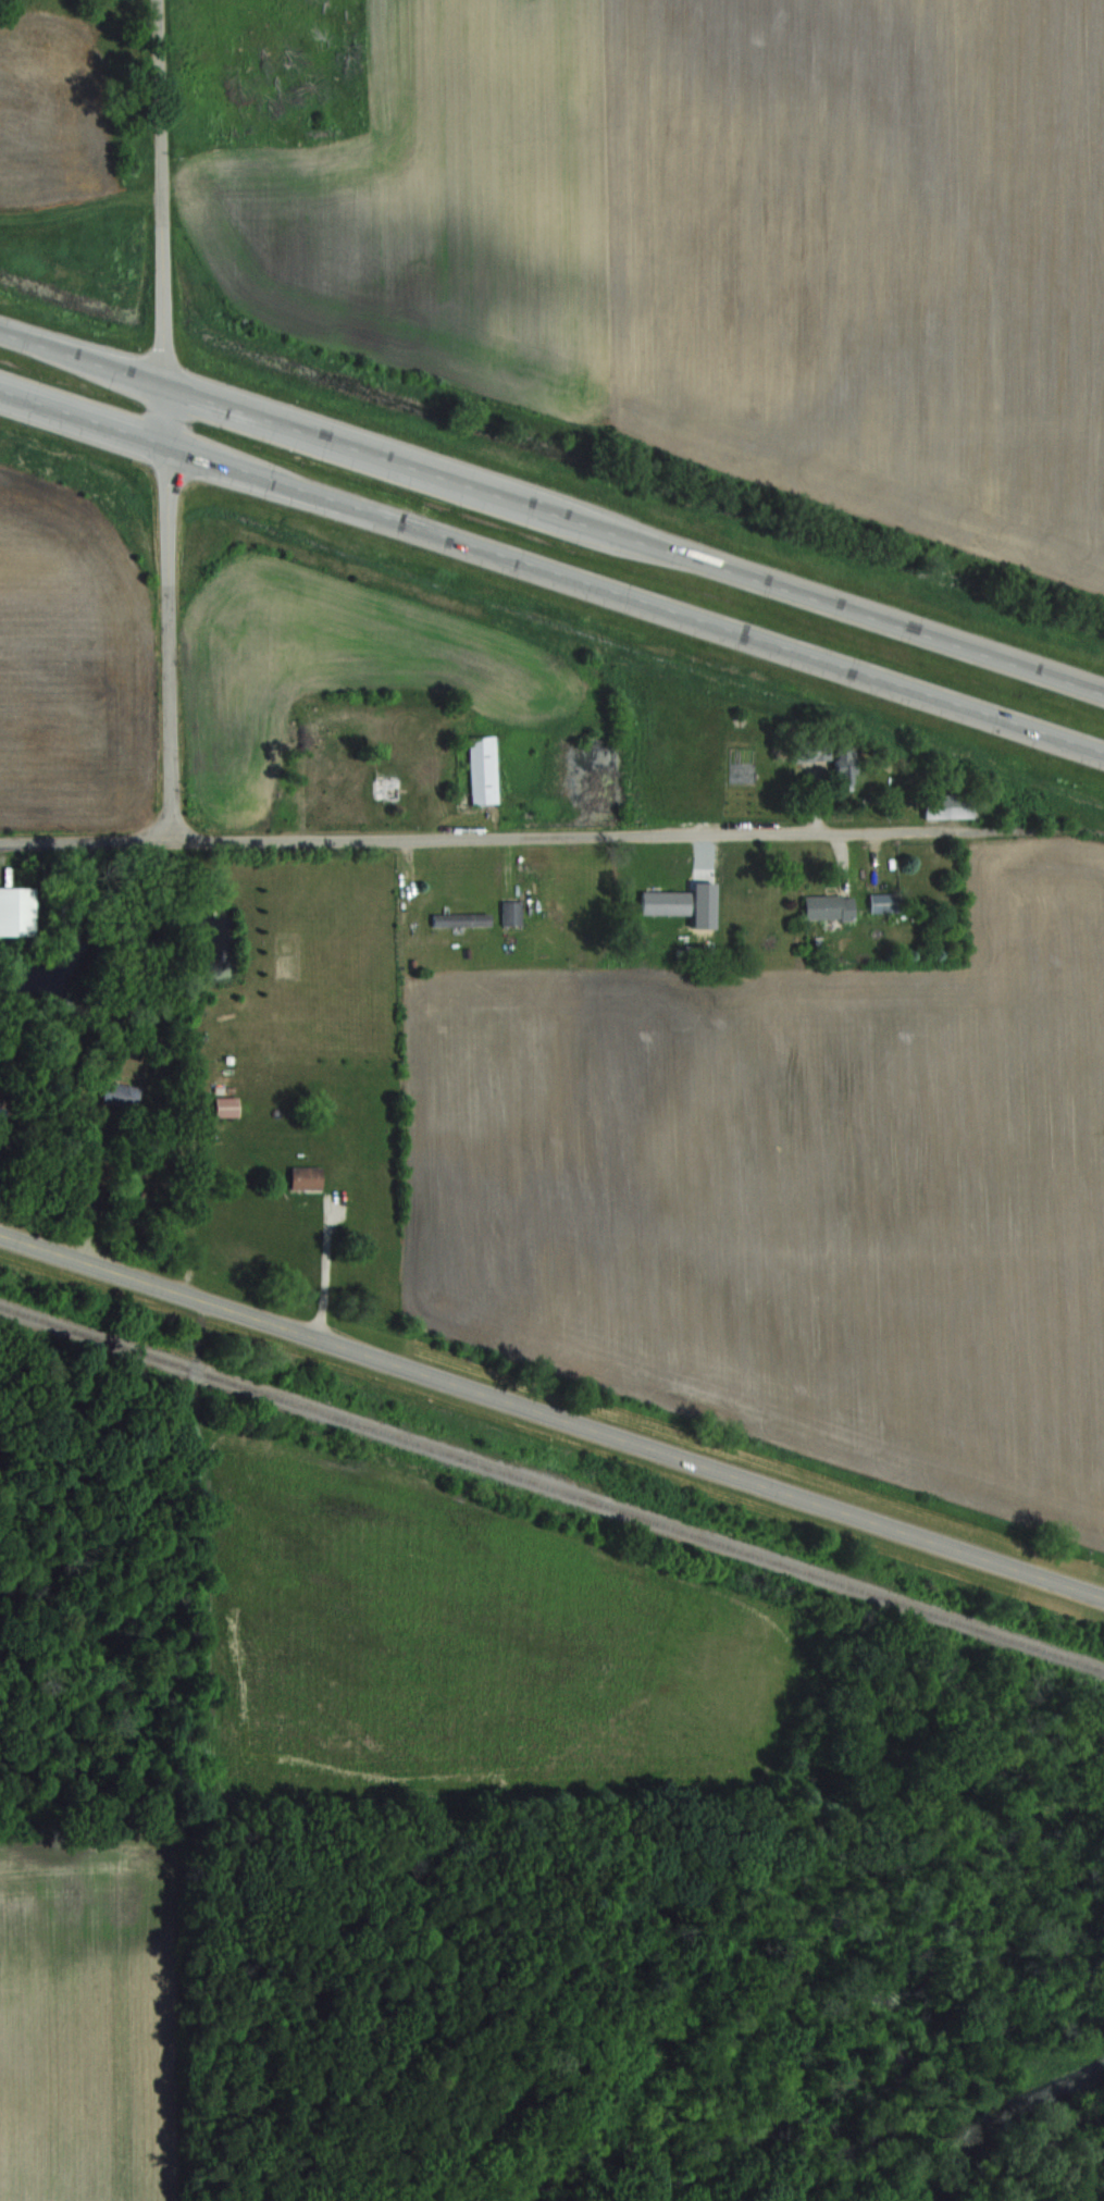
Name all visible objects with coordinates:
road: (165, 420)
road: (551, 511)
road: (551, 569)
building: (482, 768)
building: (840, 774)
building: (382, 787)
building: (944, 804)
road: (550, 834)
road: (87, 842)
building: (663, 901)
building: (881, 902)
building: (827, 905)
building: (16, 910)
building: (510, 911)
building: (127, 1093)
building: (225, 1105)
building: (303, 1176)
crop: (792, 1198)
road: (325, 1274)
road: (551, 1413)
railway: (551, 1487)

